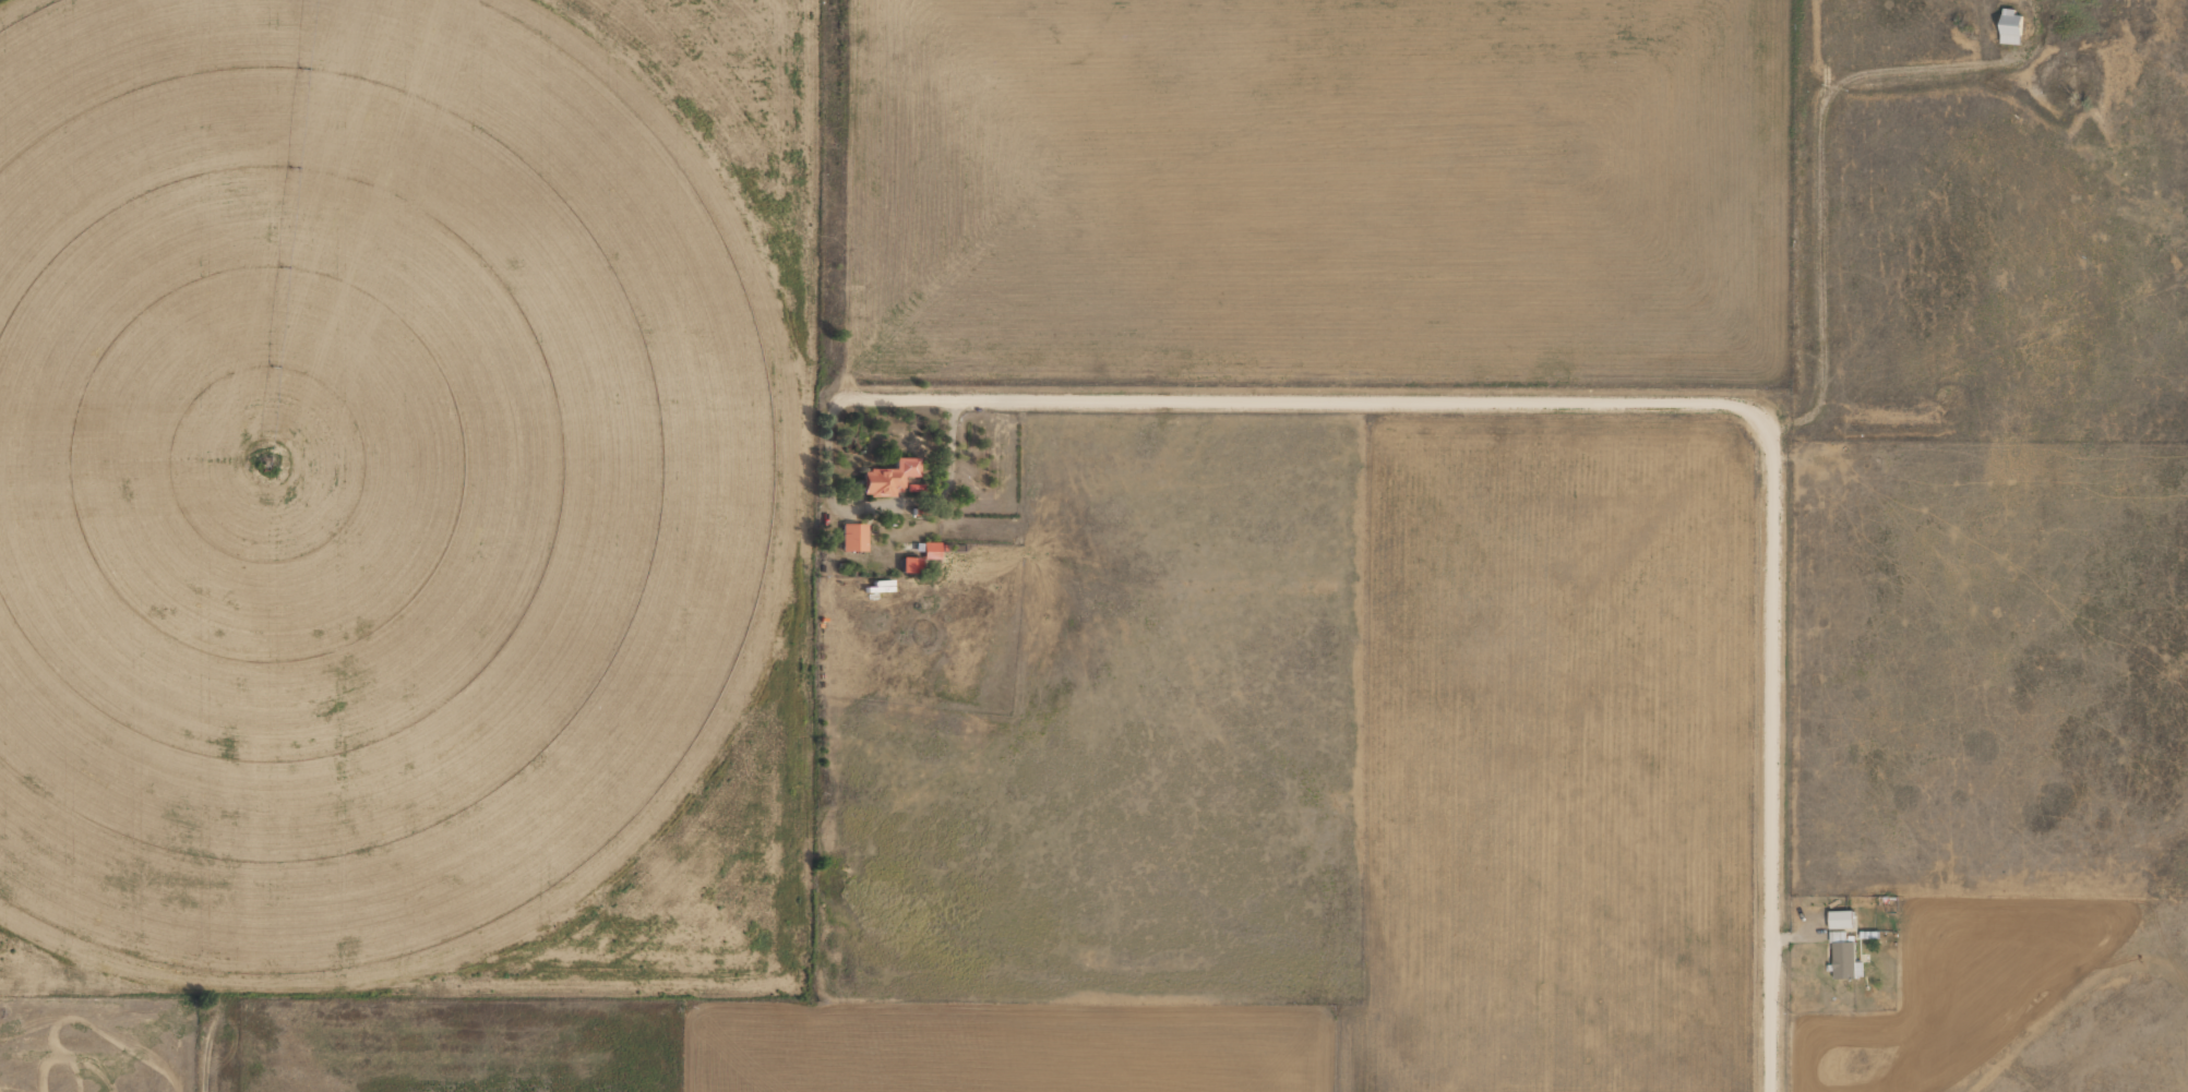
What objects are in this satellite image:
building: (2009, 26)
road: (1638, 399)
building: (885, 478)
building: (851, 537)
building: (907, 565)
building: (1840, 919)
building: (1843, 956)

